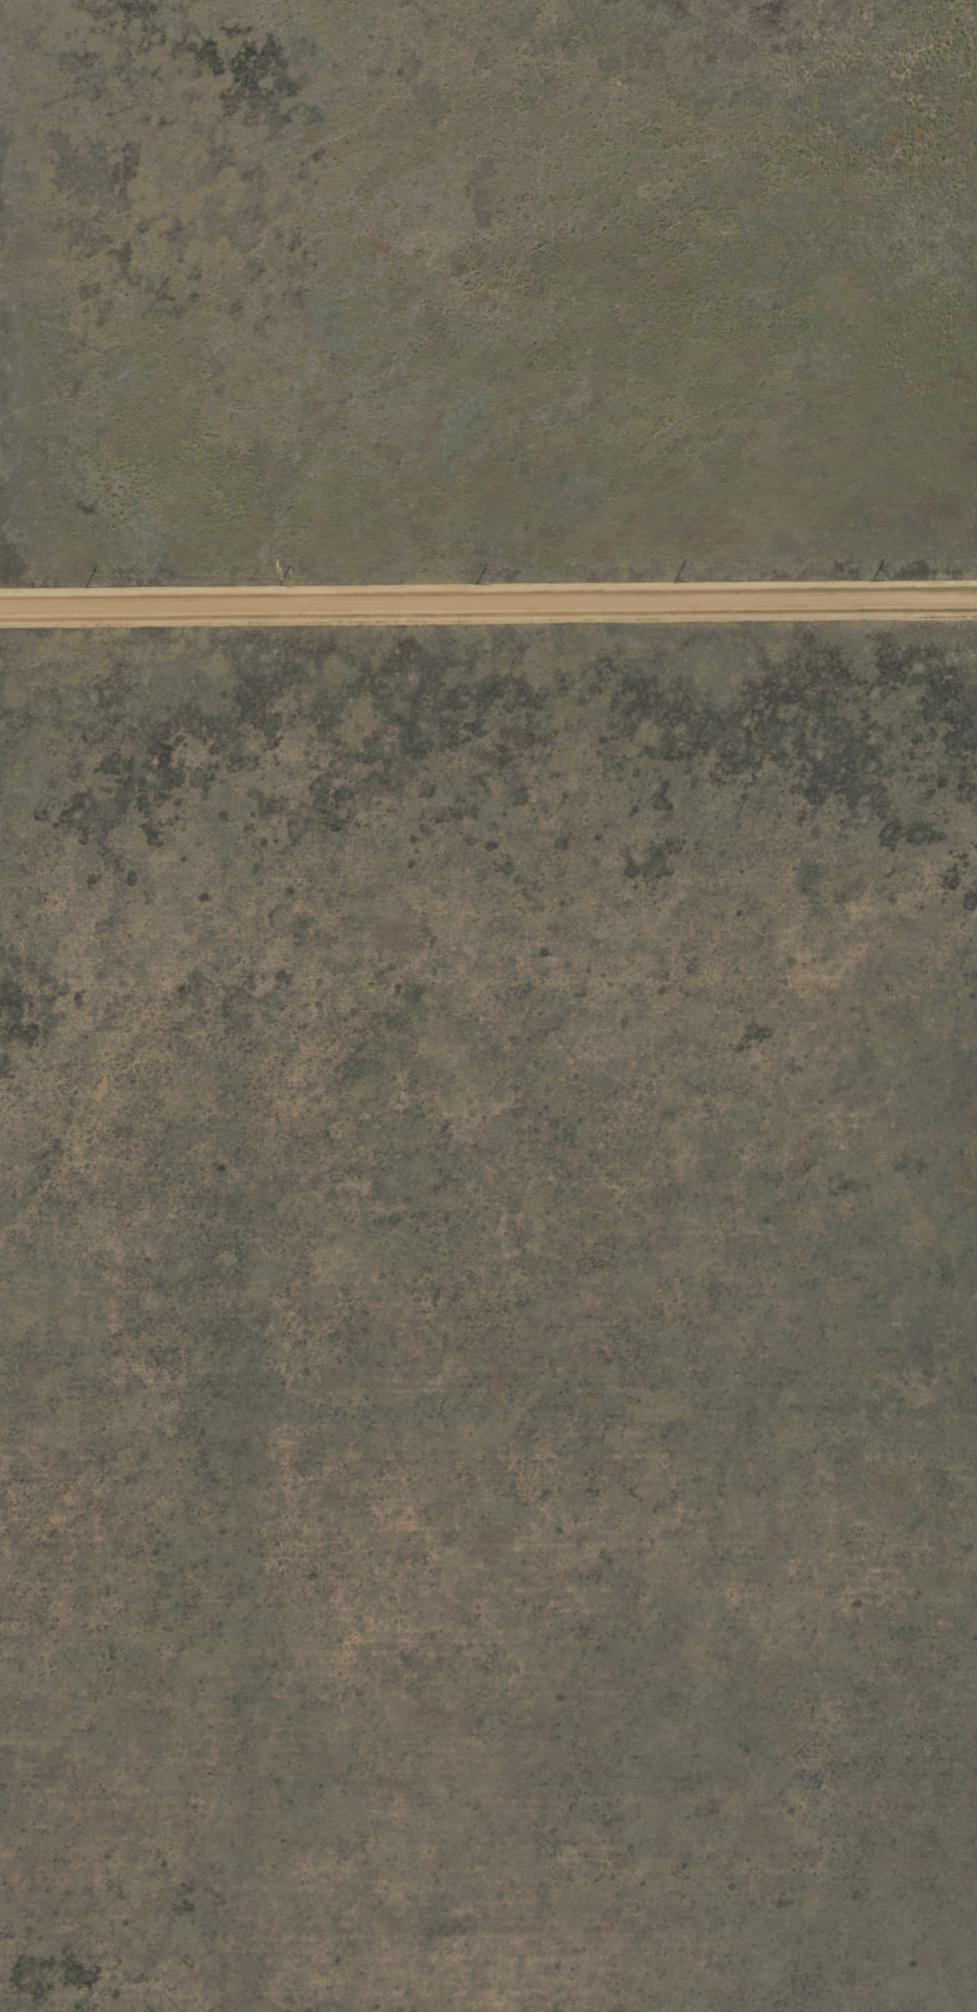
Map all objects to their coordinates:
road: (488, 632)

